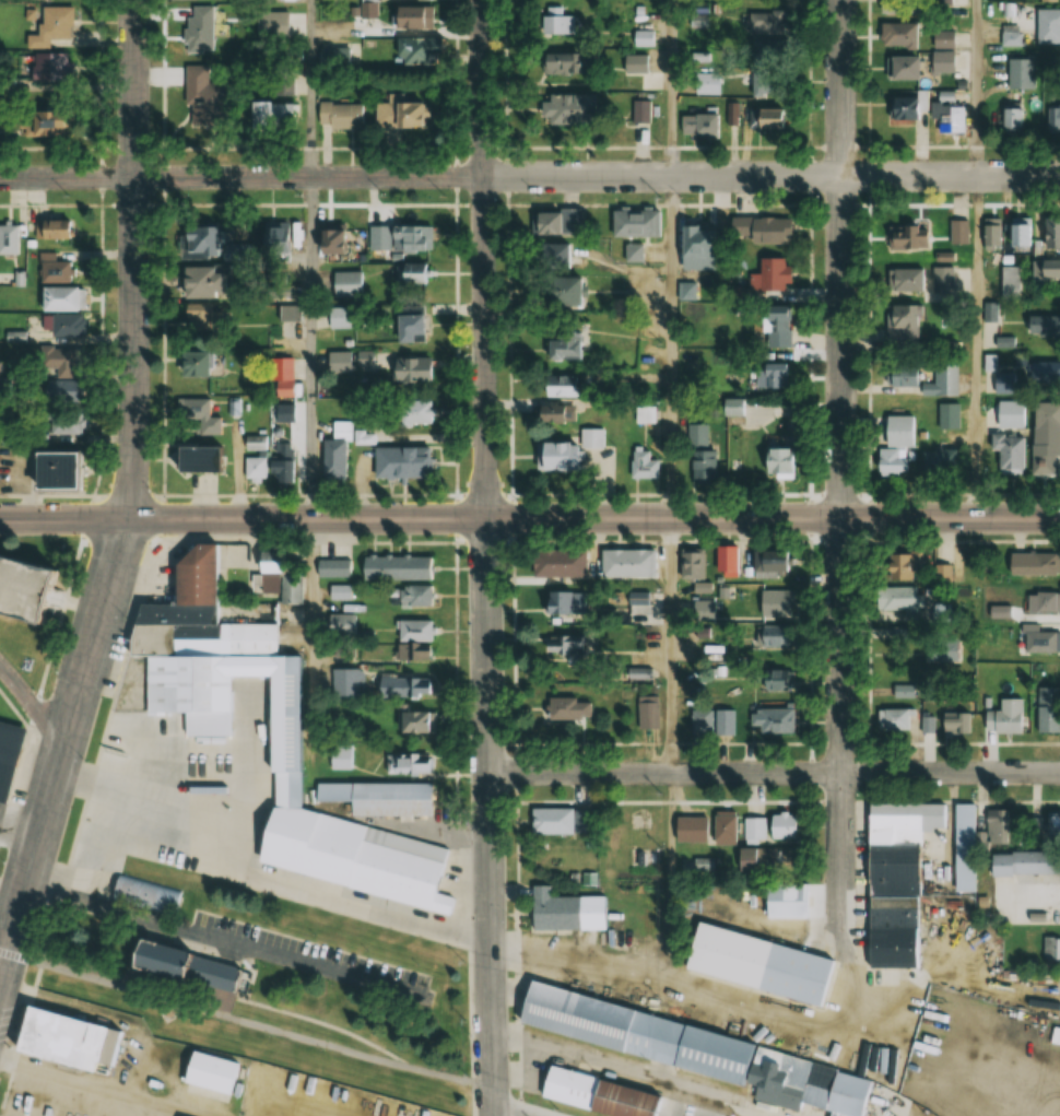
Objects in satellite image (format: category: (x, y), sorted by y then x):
building: (1049, 0)
building: (904, 7)
building: (369, 9)
building: (556, 10)
building: (699, 14)
building: (410, 19)
building: (766, 22)
building: (560, 24)
building: (49, 25)
building: (1048, 26)
building: (197, 28)
building: (897, 34)
building: (644, 37)
building: (943, 38)
building: (413, 54)
building: (335, 56)
building: (941, 61)
building: (558, 63)
building: (635, 63)
building: (899, 67)
building: (42, 68)
building: (772, 68)
building: (1021, 73)
building: (284, 82)
building: (706, 83)
road: (308, 89)
road: (671, 89)
road: (977, 89)
building: (202, 92)
building: (906, 106)
building: (569, 109)
building: (641, 111)
building: (398, 114)
building: (946, 114)
building: (267, 115)
building: (339, 116)
building: (755, 117)
building: (1053, 117)
building: (1010, 120)
building: (39, 124)
building: (700, 127)
road: (69, 177)
road: (599, 177)
building: (557, 223)
building: (636, 223)
building: (50, 230)
building: (766, 230)
building: (958, 232)
building: (992, 232)
building: (1020, 232)
building: (1050, 233)
building: (909, 237)
building: (8, 238)
building: (411, 239)
building: (331, 242)
building: (207, 245)
building: (696, 247)
building: (634, 252)
building: (562, 256)
building: (944, 256)
road: (484, 258)
building: (51, 268)
building: (1046, 268)
building: (408, 273)
building: (773, 274)
building: (942, 279)
building: (905, 280)
building: (1010, 282)
building: (197, 283)
building: (346, 284)
building: (562, 291)
building: (56, 298)
building: (991, 310)
building: (902, 317)
building: (197, 320)
building: (66, 326)
building: (1043, 326)
building: (409, 329)
building: (774, 330)
building: (561, 344)
road: (309, 348)
road: (672, 348)
road: (977, 349)
building: (363, 360)
building: (61, 361)
building: (338, 364)
building: (189, 365)
building: (409, 371)
building: (1044, 372)
building: (902, 374)
building: (772, 375)
building: (280, 377)
building: (1004, 383)
building: (557, 386)
building: (58, 391)
building: (192, 409)
building: (413, 413)
building: (552, 413)
building: (644, 415)
building: (949, 415)
building: (1046, 415)
building: (64, 423)
building: (697, 435)
building: (362, 437)
building: (895, 446)
building: (333, 453)
building: (1006, 453)
building: (552, 456)
building: (1041, 458)
building: (191, 459)
building: (937, 460)
building: (284, 462)
building: (399, 462)
building: (776, 463)
building: (643, 465)
building: (256, 467)
building: (703, 468)
building: (47, 471)
road: (843, 474)
road: (133, 497)
road: (64, 518)
road: (594, 518)
building: (237, 555)
building: (726, 559)
building: (558, 562)
building: (627, 563)
building: (767, 563)
building: (1032, 563)
building: (691, 564)
building: (900, 564)
building: (333, 566)
building: (394, 566)
building: (267, 572)
building: (942, 573)
building: (290, 589)
building: (339, 591)
building: (415, 595)
building: (896, 597)
building: (638, 599)
building: (17, 601)
building: (564, 601)
building: (775, 602)
building: (1043, 602)
building: (769, 637)
road: (311, 638)
building: (413, 639)
building: (1038, 639)
building: (565, 646)
road: (673, 646)
building: (691, 648)
building: (942, 650)
building: (639, 673)
building: (773, 679)
building: (344, 681)
building: (411, 685)
building: (182, 696)
road: (31, 701)
building: (567, 707)
building: (1048, 708)
building: (270, 710)
building: (647, 712)
building: (1004, 716)
building: (894, 718)
building: (415, 721)
building: (770, 721)
building: (954, 723)
building: (703, 724)
building: (928, 724)
building: (7, 754)
building: (341, 756)
building: (409, 763)
road: (776, 774)
building: (281, 797)
building: (392, 797)
building: (906, 814)
road: (492, 817)
building: (560, 821)
building: (997, 825)
building: (723, 826)
building: (770, 826)
building: (691, 827)
building: (1052, 827)
building: (963, 847)
building: (762, 857)
building: (349, 861)
building: (1024, 861)
road: (673, 880)
building: (139, 897)
building: (786, 900)
building: (891, 904)
building: (564, 911)
road: (224, 944)
building: (1050, 948)
parking lot: (307, 953)
building: (757, 965)
building: (180, 976)
road: (703, 998)
road: (245, 1023)
building: (638, 1034)
building: (55, 1045)
building: (201, 1076)
building: (598, 1093)
road: (499, 1115)

